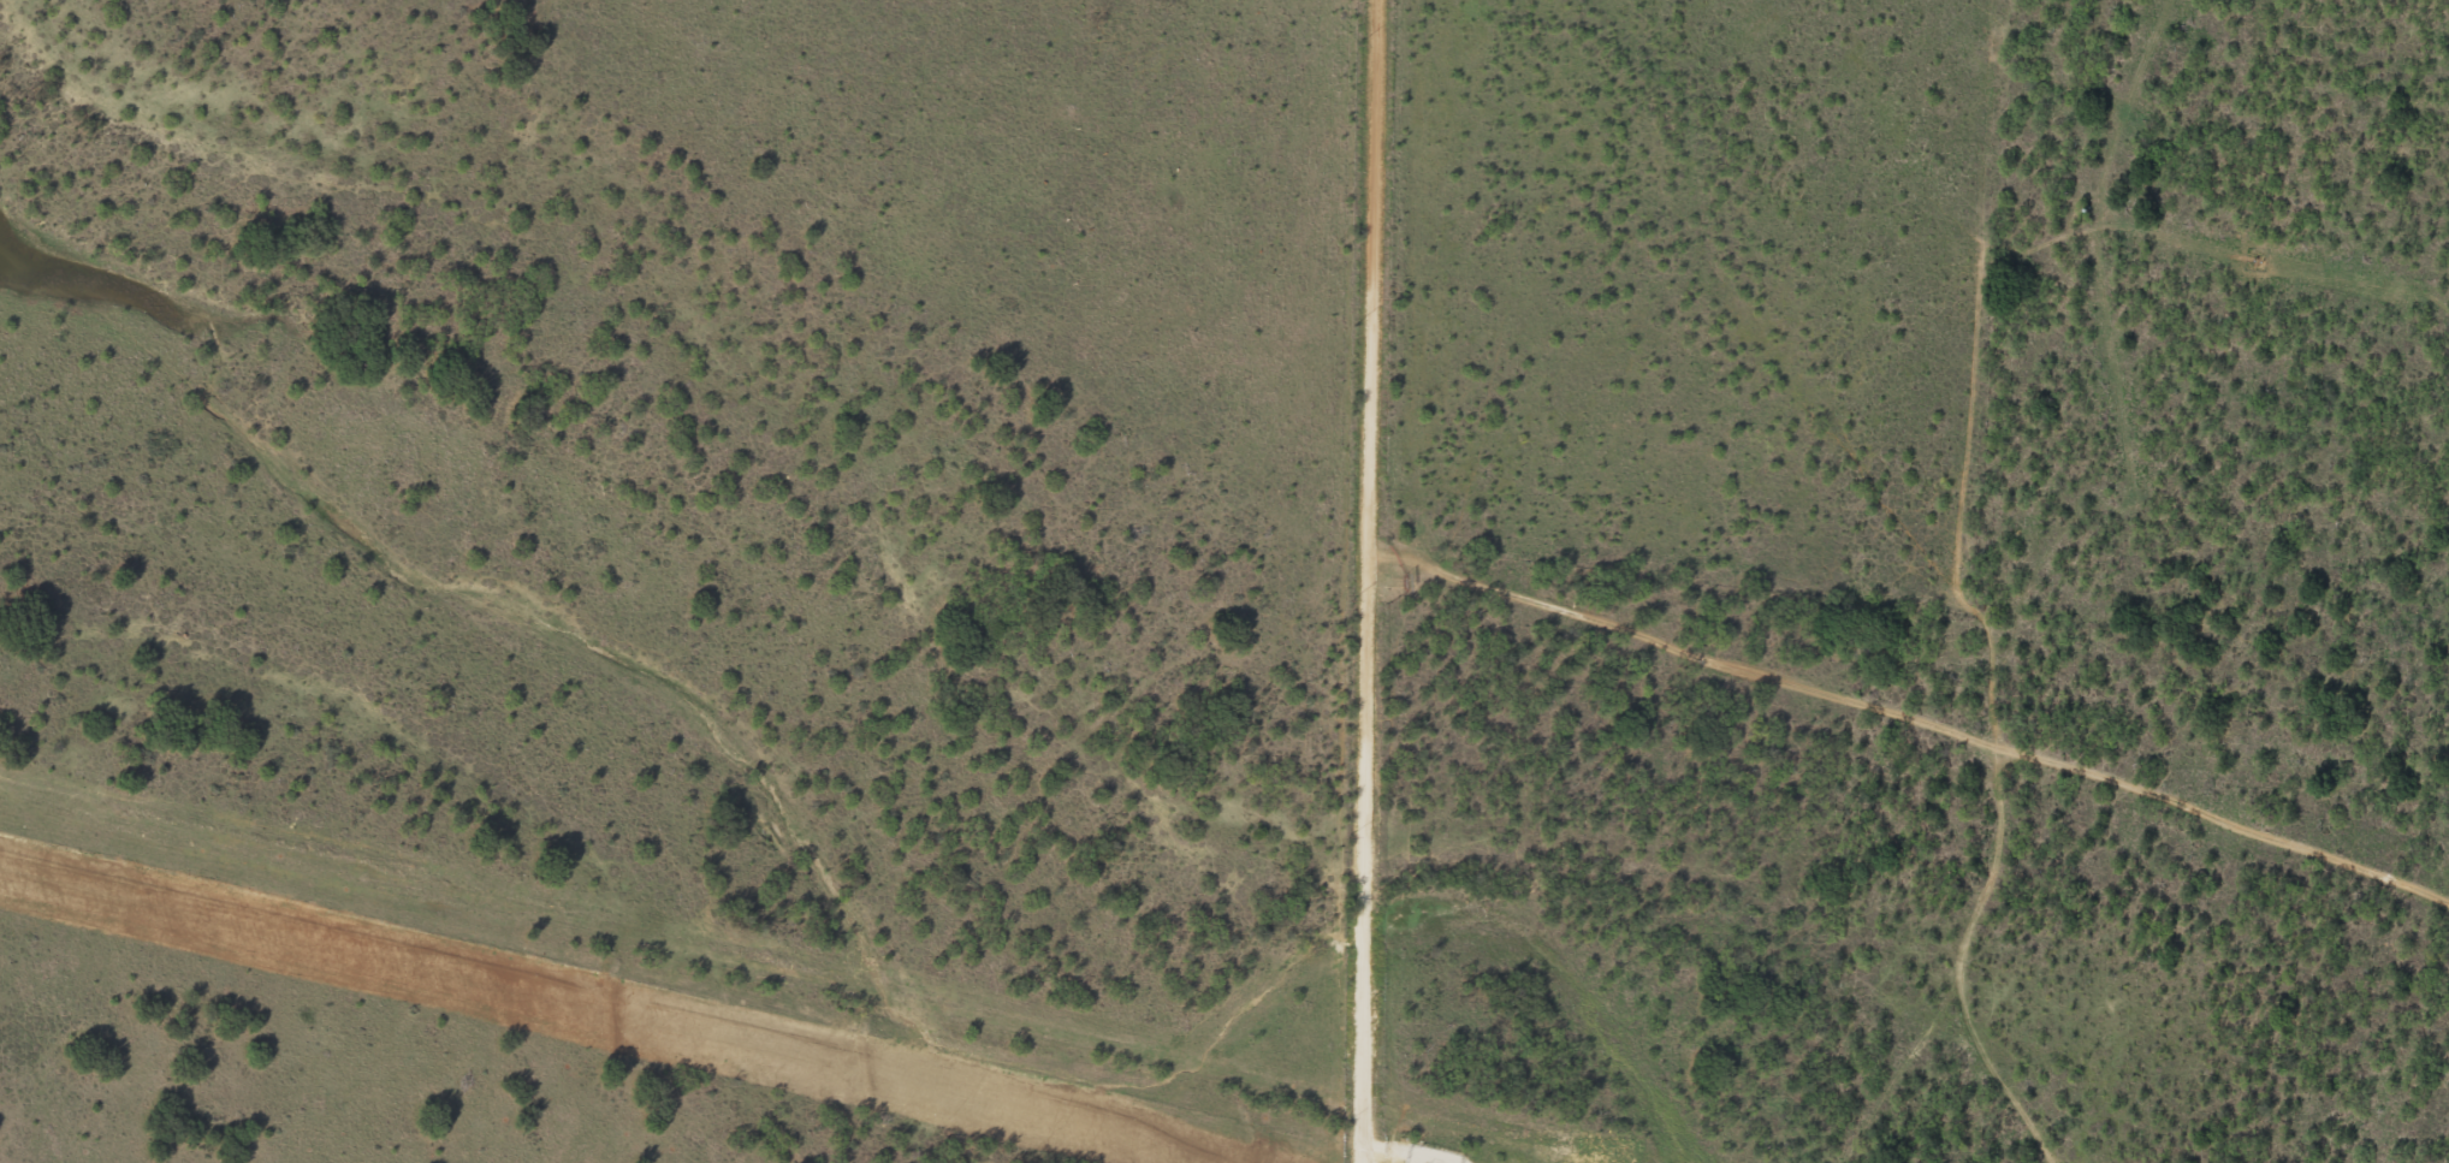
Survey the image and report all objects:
road: (1368, 581)

